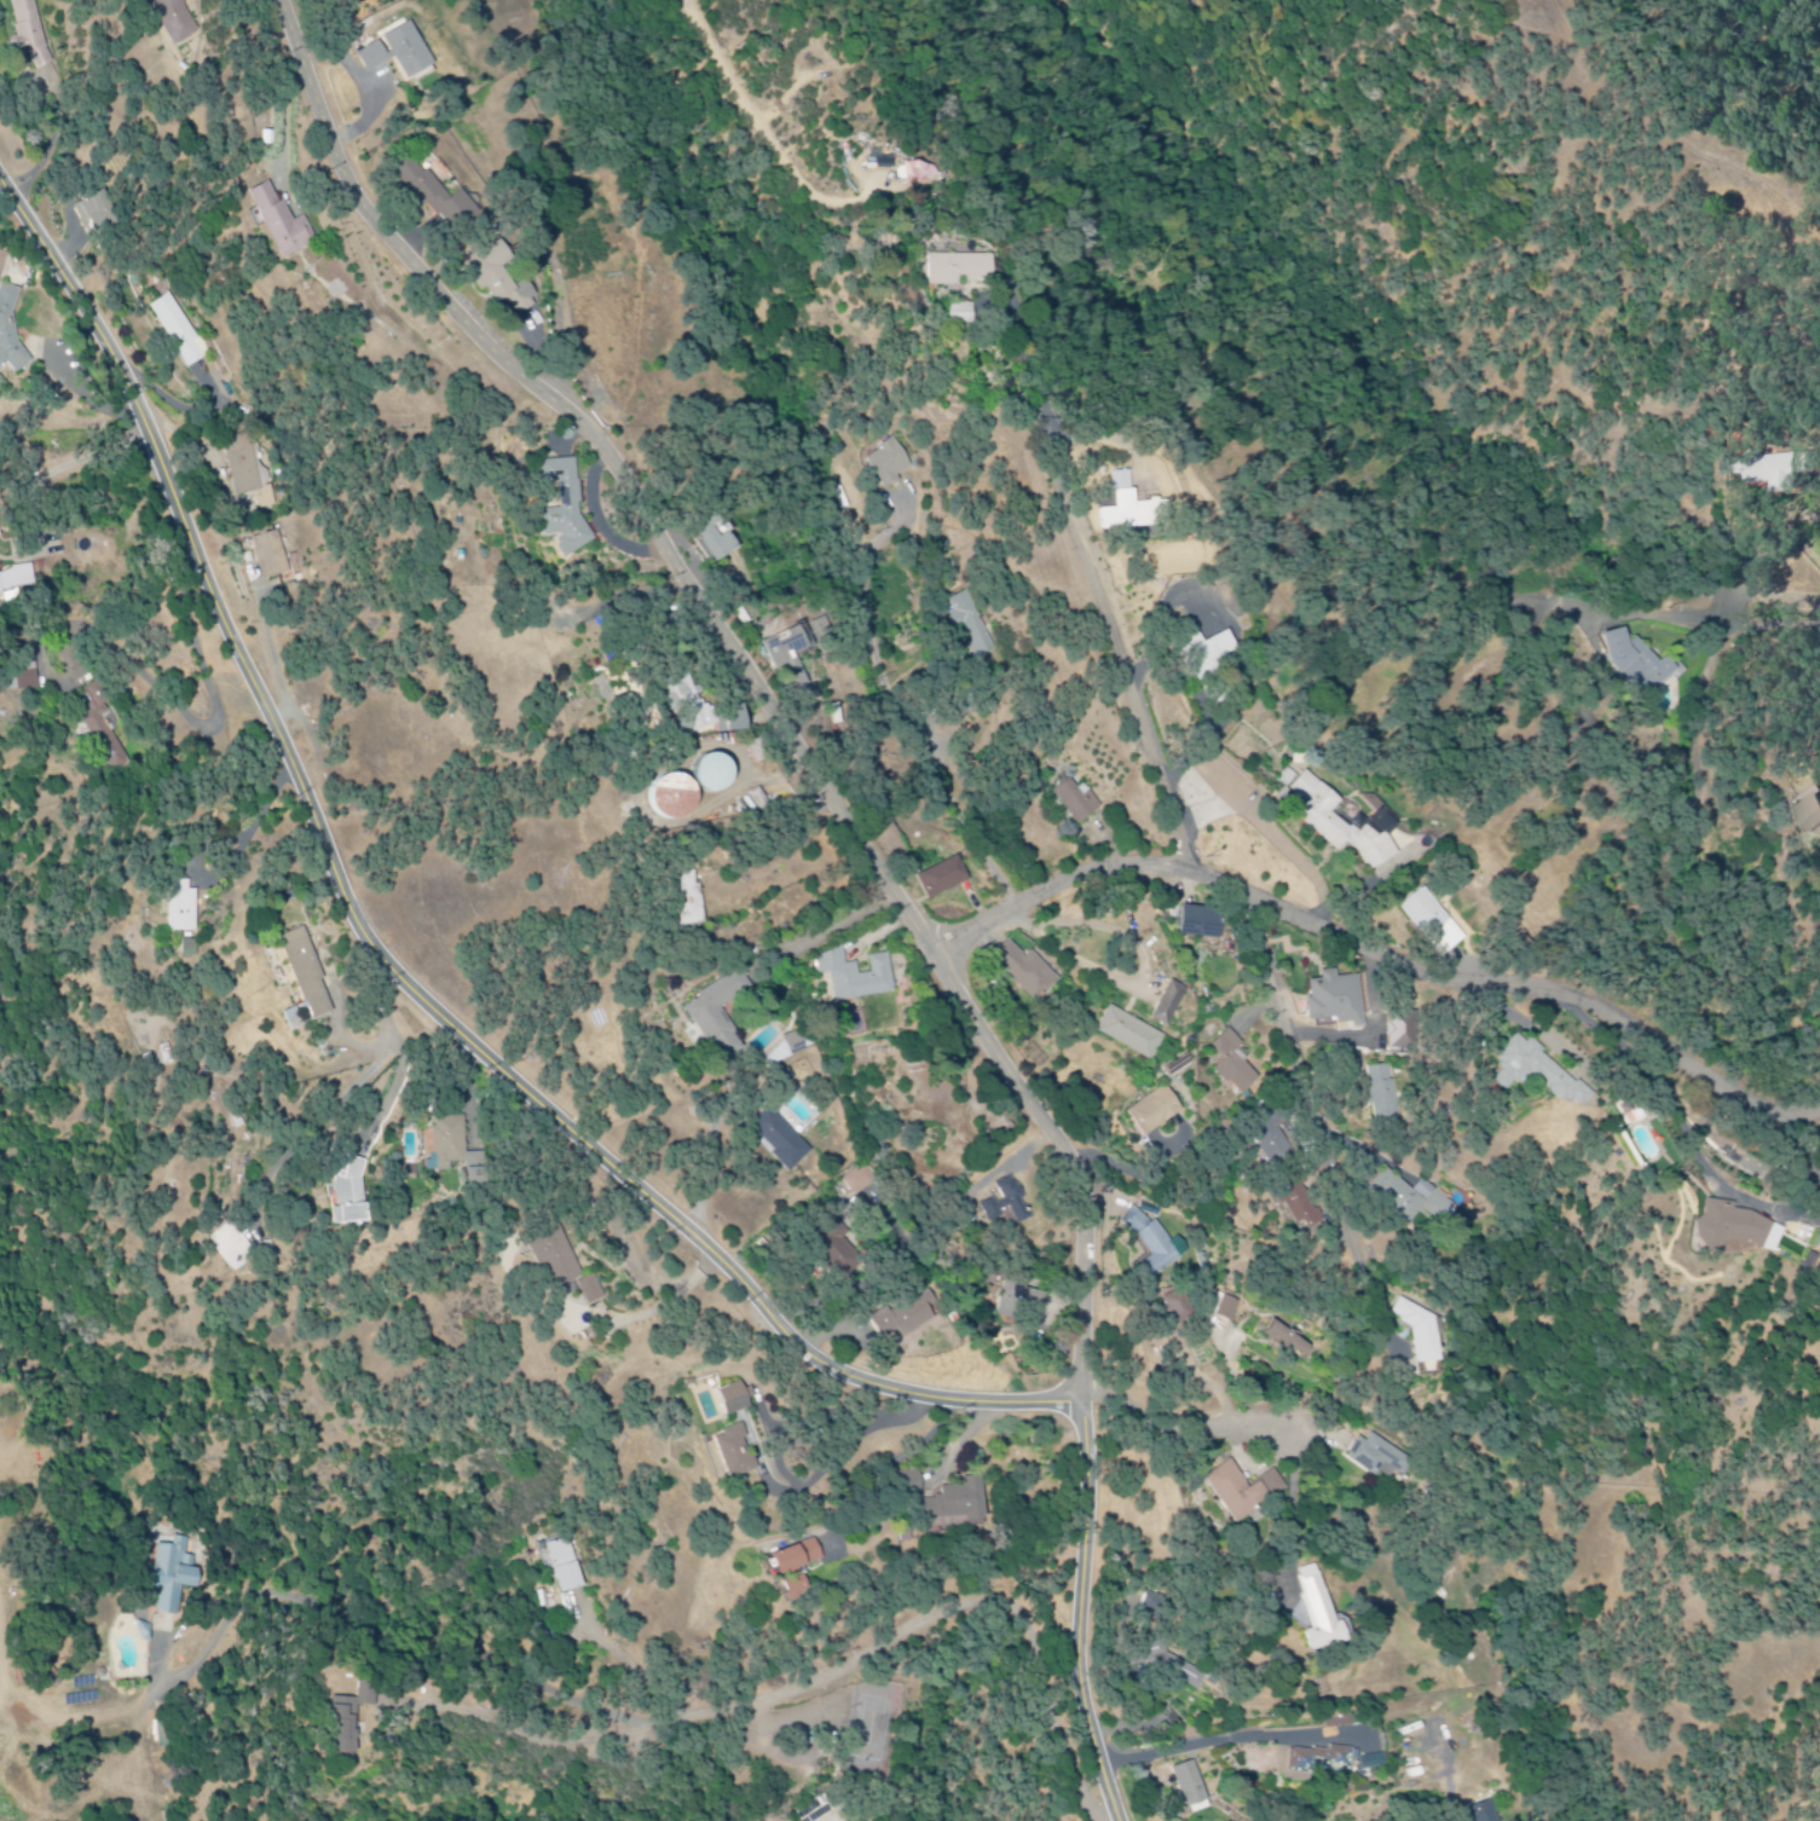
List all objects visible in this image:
building: (177, 21)
building: (29, 31)
building: (401, 54)
road: (283, 116)
building: (931, 178)
building: (443, 198)
building: (96, 210)
building: (283, 224)
building: (972, 267)
building: (10, 330)
building: (180, 330)
building: (889, 463)
building: (248, 469)
building: (1772, 473)
building: (570, 508)
building: (1140, 508)
building: (721, 538)
building: (271, 556)
road: (1668, 619)
building: (971, 625)
road: (1113, 636)
building: (798, 649)
building: (1219, 653)
building: (1637, 660)
building: (25, 676)
road: (752, 680)
road: (902, 706)
building: (707, 710)
building: (102, 728)
building: (720, 774)
building: (677, 798)
building: (1077, 803)
building: (1818, 809)
building: (1388, 822)
building: (1345, 823)
building: (942, 879)
building: (692, 900)
building: (181, 908)
building: (1202, 924)
building: (1440, 924)
road: (383, 964)
road: (1373, 966)
building: (1027, 972)
building: (307, 973)
building: (856, 977)
building: (1337, 1000)
building: (1171, 1005)
building: (720, 1016)
building: (1406, 1031)
building: (1131, 1034)
building: (799, 1042)
building: (1235, 1064)
building: (1547, 1073)
road: (1300, 1080)
building: (1385, 1093)
building: (1155, 1111)
road: (1675, 1121)
building: (781, 1141)
building: (1275, 1146)
building: (458, 1151)
building: (861, 1180)
building: (347, 1196)
building: (1411, 1198)
building: (1007, 1206)
building: (1300, 1208)
building: (1160, 1245)
building: (839, 1251)
building: (555, 1256)
road: (1204, 1288)
building: (593, 1291)
building: (1018, 1301)
building: (1180, 1307)
building: (1230, 1310)
building: (905, 1318)
building: (1417, 1331)
building: (1290, 1343)
building: (735, 1400)
road: (1186, 1434)
building: (736, 1453)
building: (1376, 1458)
building: (1244, 1491)
building: (957, 1508)
building: (799, 1559)
building: (565, 1567)
building: (173, 1576)
building: (796, 1589)
building: (1155, 1606)
road: (1080, 1618)
building: (352, 1721)
road: (674, 1728)
park: (869, 1729)
road: (1194, 1748)
building: (1323, 1763)
building: (1373, 1763)
building: (1194, 1790)
building: (1486, 1813)

